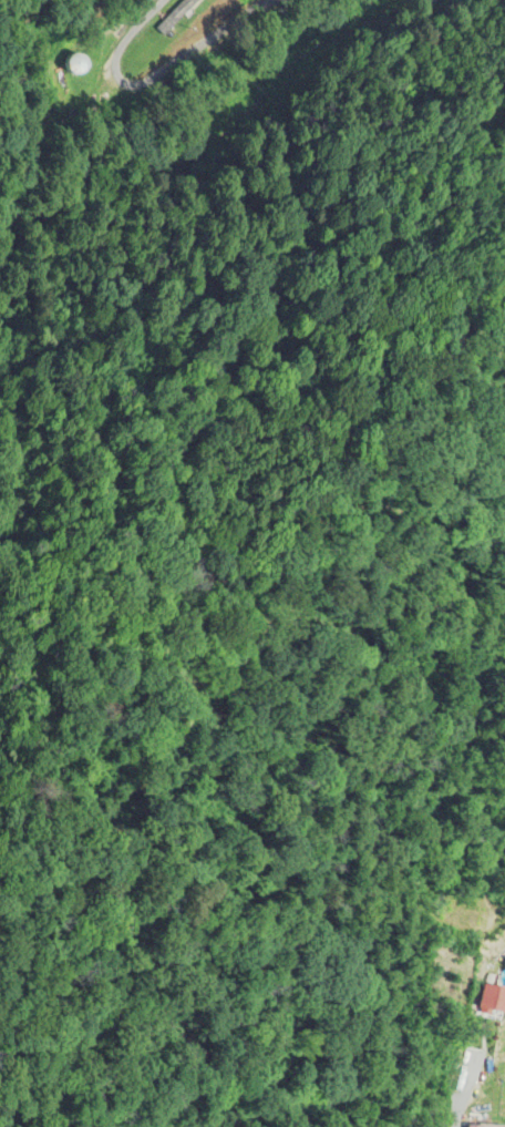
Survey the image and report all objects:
building: (173, 13)
building: (80, 65)
road: (154, 75)
building: (493, 995)
building: (484, 1125)

